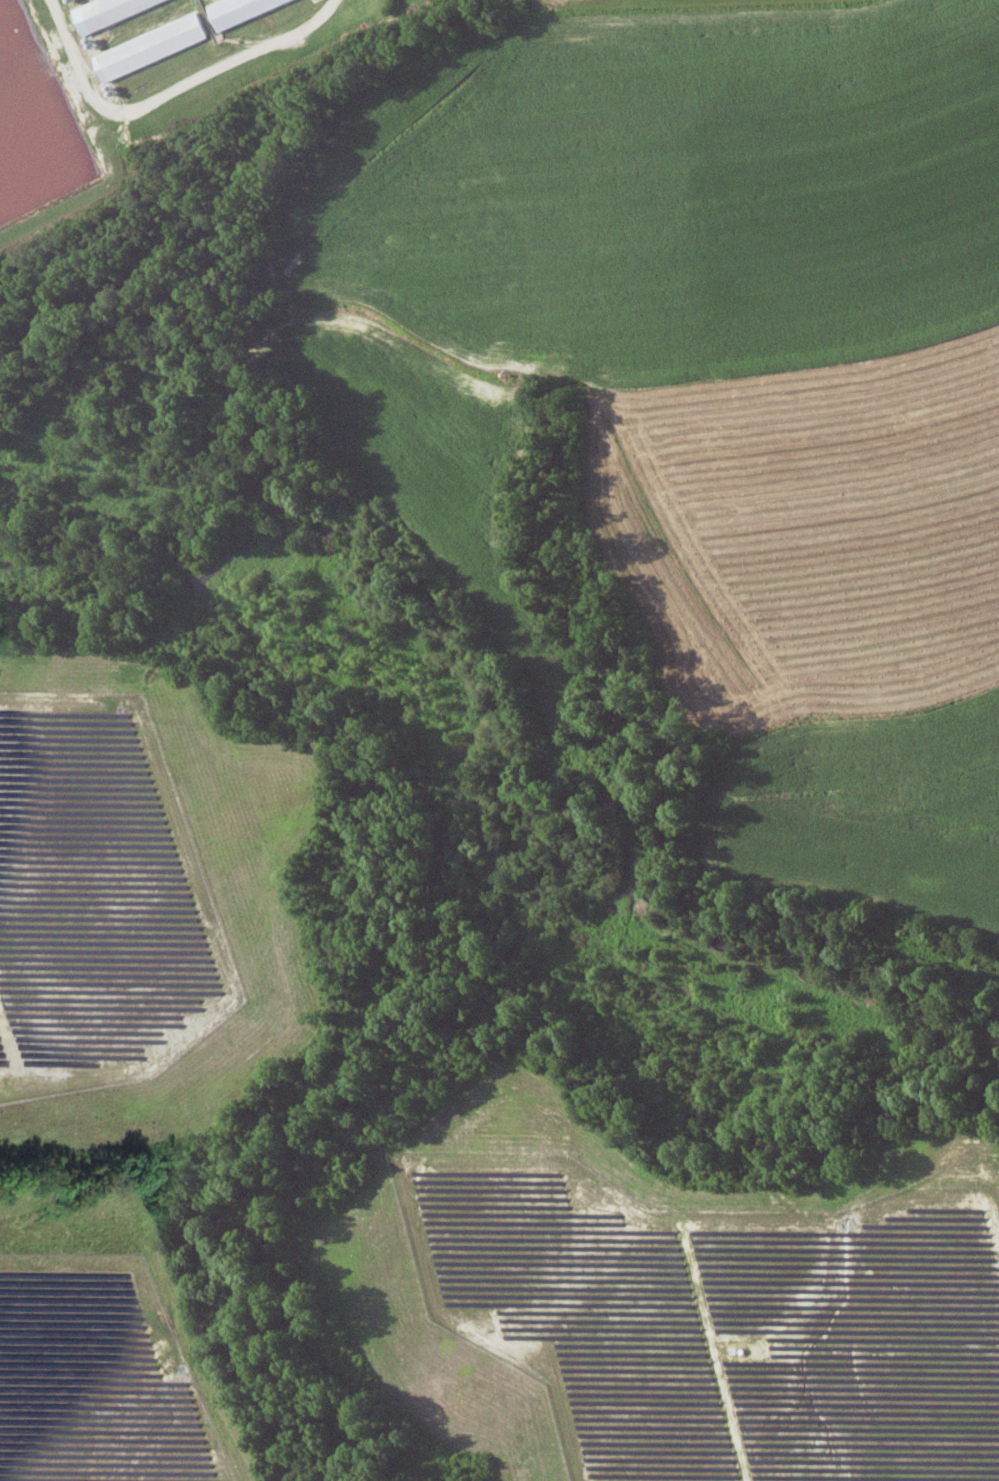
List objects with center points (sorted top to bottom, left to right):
building: (239, 10)
building: (109, 11)
building: (150, 46)
solar farm: (98, 901)
solar farm: (720, 1321)
solar farm: (95, 1377)

